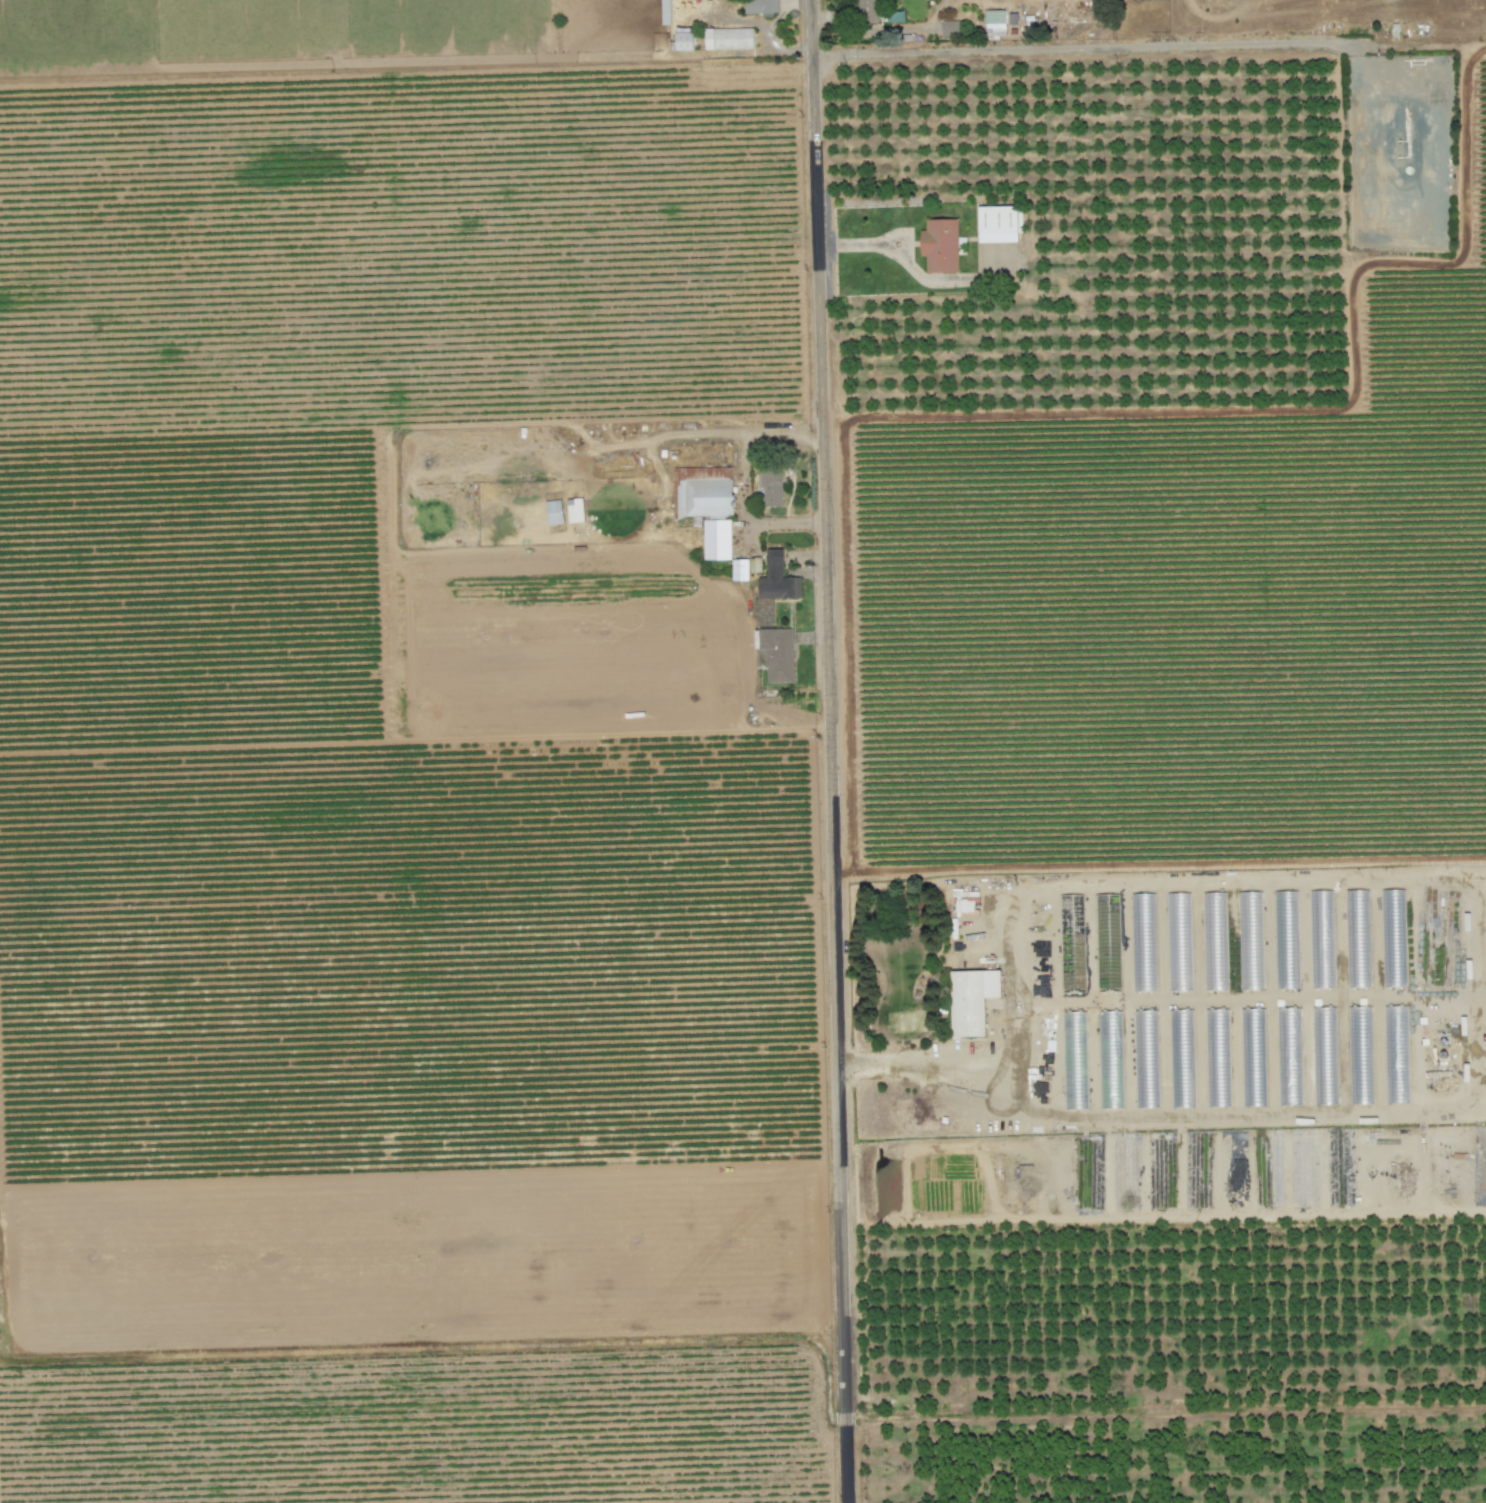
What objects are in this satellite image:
building: (761, 7)
building: (866, 11)
building: (994, 23)
building: (950, 28)
building: (684, 39)
building: (728, 39)
road: (1472, 41)
road: (1082, 46)
building: (998, 224)
building: (940, 246)
building: (770, 483)
building: (703, 492)
building: (574, 510)
building: (553, 512)
building: (716, 540)
building: (740, 570)
building: (777, 579)
building: (777, 655)
road: (828, 751)
building: (1482, 918)
building: (1393, 938)
building: (1322, 939)
building: (1358, 939)
building: (1251, 940)
building: (1286, 940)
building: (1179, 941)
building: (1214, 941)
building: (1143, 942)
building: (971, 1000)
building: (1360, 1055)
building: (1396, 1055)
building: (1289, 1056)
building: (1325, 1056)
building: (1253, 1057)
building: (1182, 1058)
building: (1218, 1058)
building: (1110, 1059)
building: (1146, 1059)
building: (1074, 1060)
road: (999, 1062)

